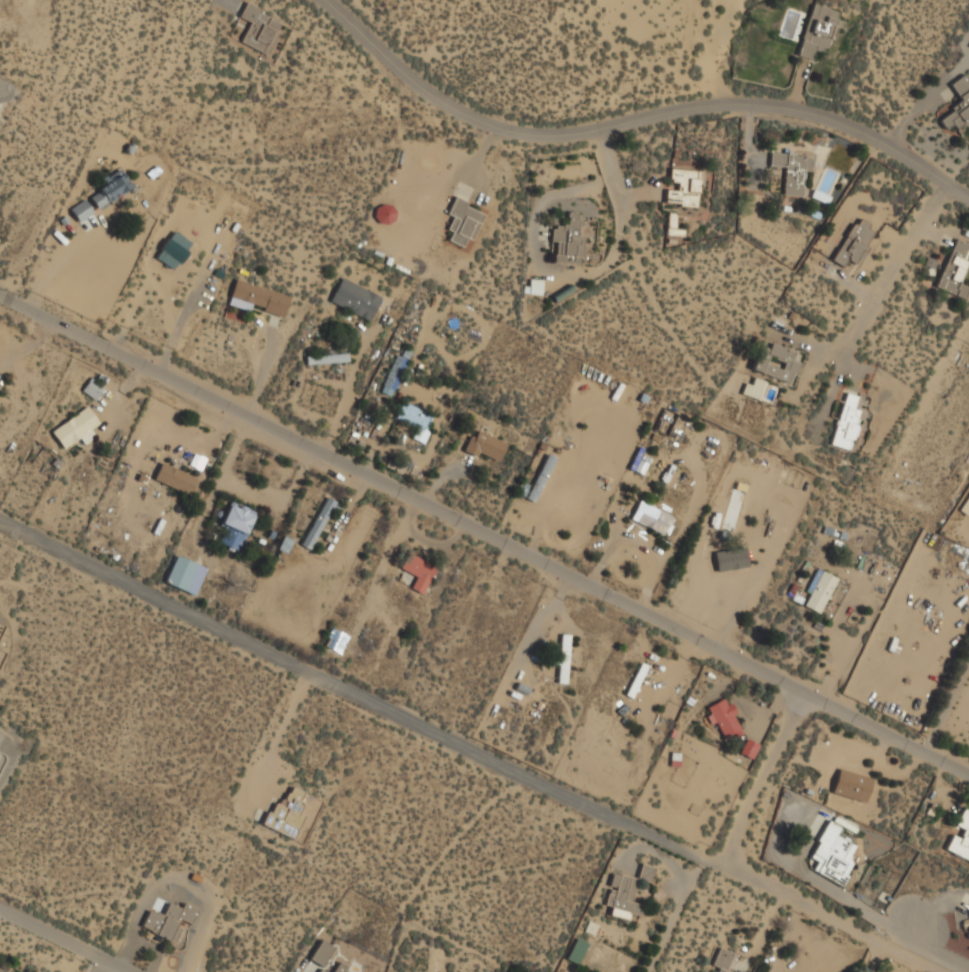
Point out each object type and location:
building: (259, 29)
building: (818, 30)
building: (968, 45)
building: (958, 106)
road: (624, 119)
building: (792, 171)
road: (609, 182)
road: (956, 185)
building: (111, 188)
building: (683, 188)
building: (820, 197)
building: (81, 211)
building: (462, 222)
building: (672, 226)
building: (567, 242)
building: (855, 243)
building: (173, 250)
road: (889, 266)
building: (955, 269)
building: (535, 287)
building: (257, 299)
building: (355, 299)
building: (327, 359)
building: (776, 364)
building: (394, 375)
building: (752, 388)
building: (93, 389)
building: (416, 421)
building: (846, 423)
building: (76, 428)
building: (485, 447)
building: (638, 465)
building: (540, 478)
building: (175, 479)
building: (653, 519)
building: (318, 524)
building: (236, 526)
road: (484, 531)
building: (736, 551)
building: (418, 572)
building: (185, 575)
building: (819, 591)
building: (335, 641)
building: (563, 659)
building: (636, 681)
road: (357, 688)
building: (723, 717)
road: (283, 730)
building: (749, 749)
road: (757, 774)
building: (852, 786)
building: (287, 812)
building: (960, 837)
building: (830, 855)
building: (626, 893)
building: (968, 914)
road: (826, 917)
building: (168, 920)
building: (968, 935)
road: (66, 939)
building: (577, 951)
road: (930, 951)
building: (321, 953)
building: (722, 960)
building: (341, 969)
building: (2, 971)
building: (320, 971)

